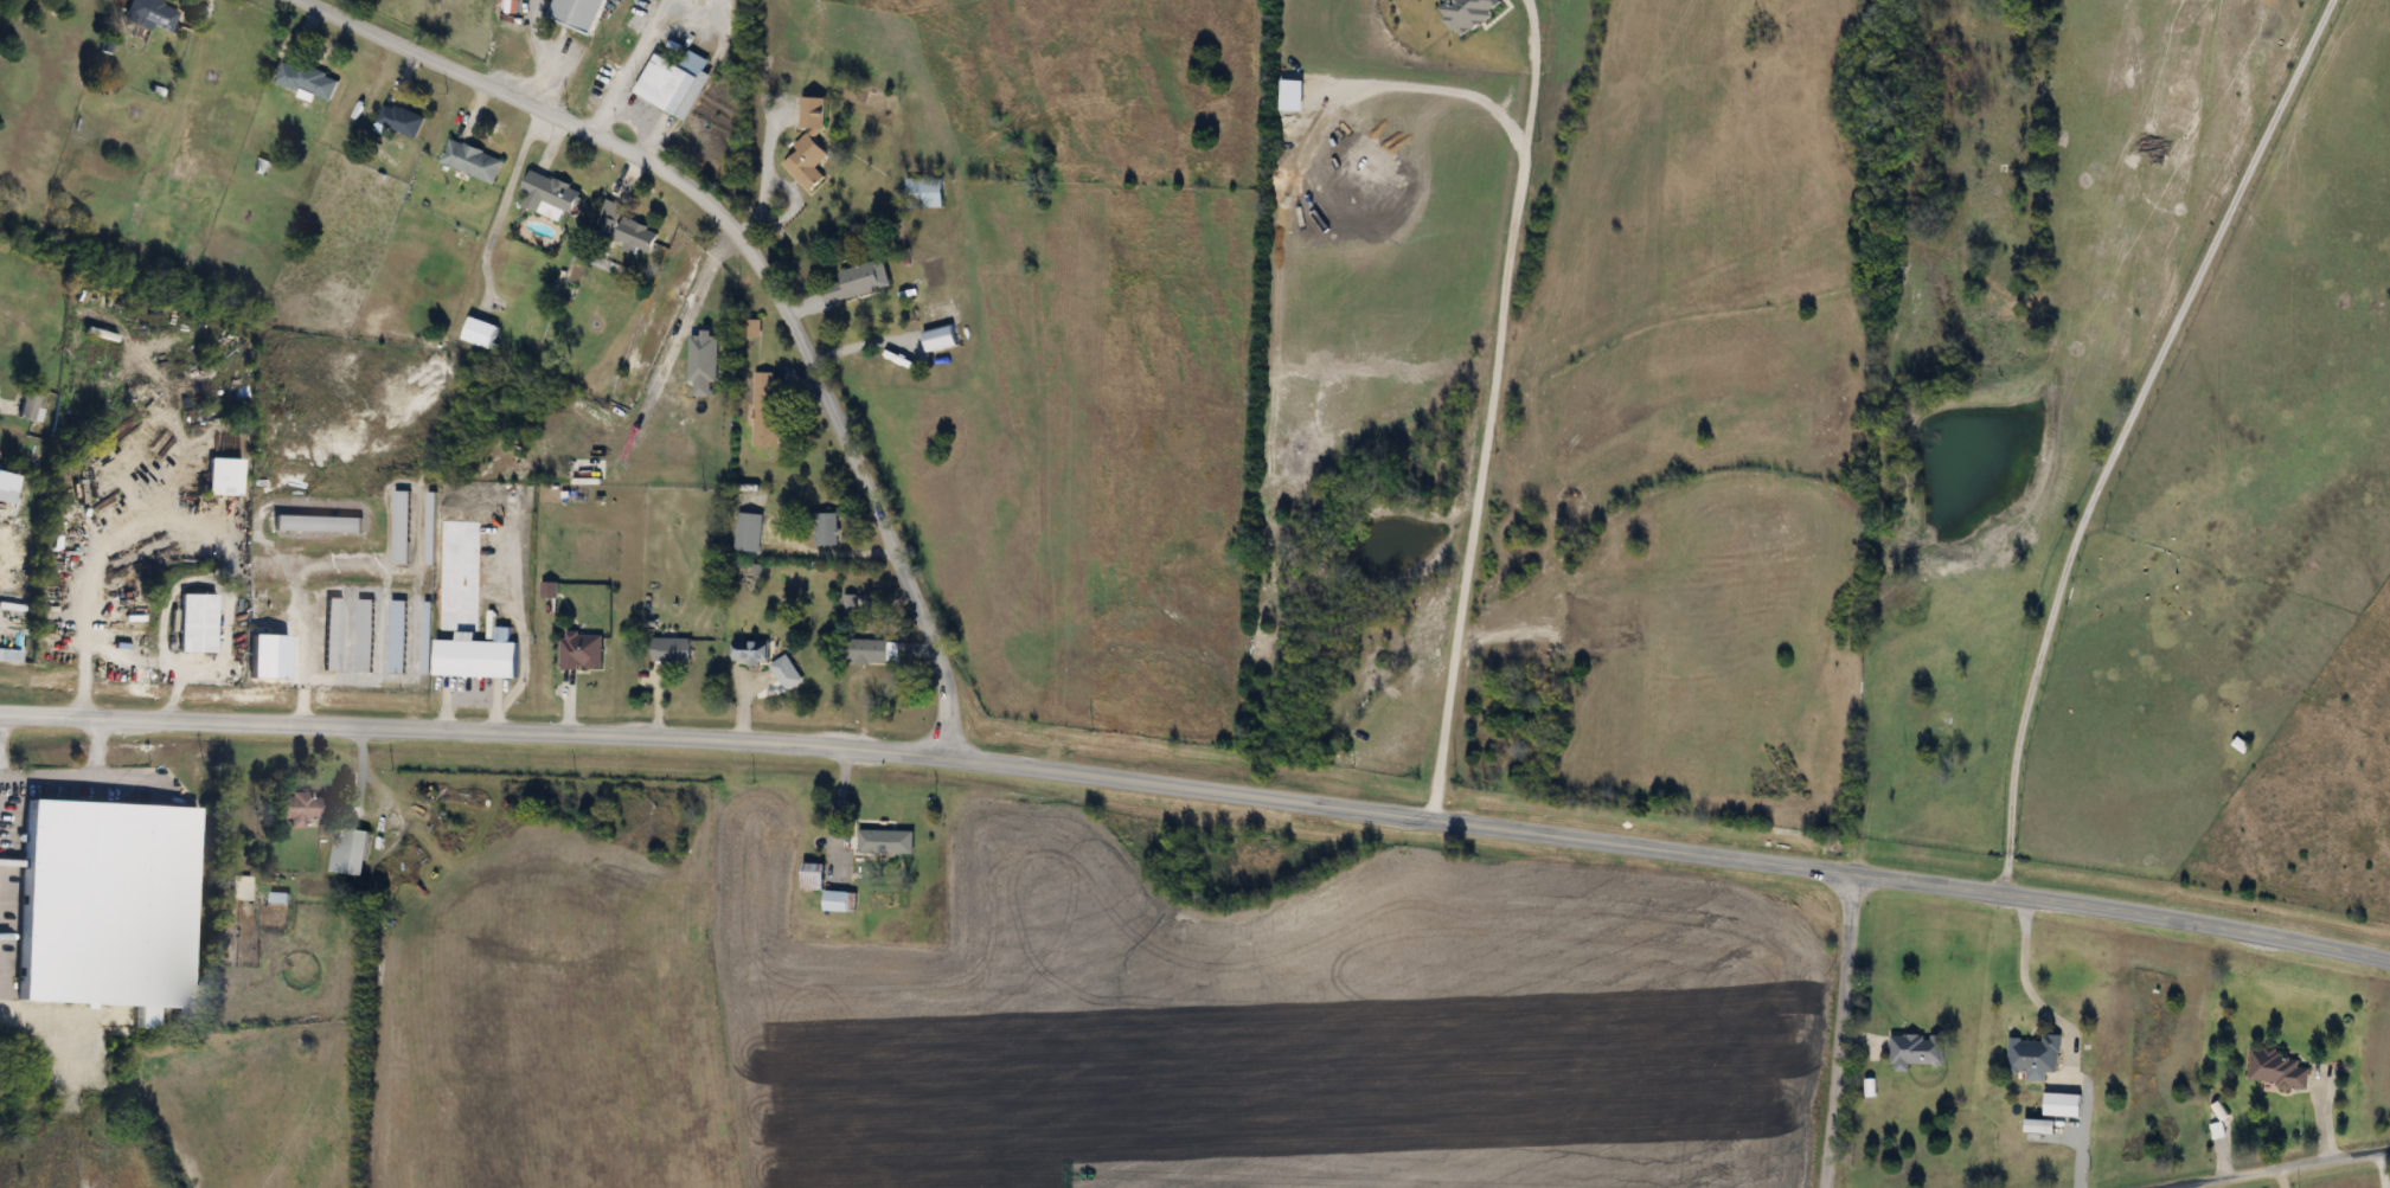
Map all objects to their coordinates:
building: (150, 13)
building: (577, 13)
road: (533, 63)
building: (306, 81)
building: (671, 85)
building: (401, 118)
building: (808, 145)
building: (470, 160)
road: (763, 174)
building: (923, 192)
building: (549, 193)
building: (629, 233)
road: (756, 262)
building: (864, 277)
road: (697, 295)
building: (479, 332)
road: (852, 347)
building: (28, 403)
building: (764, 409)
road: (1480, 428)
road: (2120, 431)
building: (222, 476)
building: (7, 486)
building: (315, 522)
building: (401, 526)
building: (429, 526)
building: (825, 527)
building: (748, 531)
road: (826, 553)
road: (91, 559)
building: (549, 587)
building: (194, 622)
building: (329, 632)
building: (364, 634)
building: (396, 635)
building: (581, 649)
building: (671, 649)
building: (749, 649)
building: (872, 650)
building: (474, 655)
road: (152, 656)
building: (782, 668)
road: (357, 766)
road: (76, 773)
road: (1199, 789)
building: (297, 807)
road: (840, 810)
building: (885, 841)
building: (348, 849)
building: (812, 875)
building: (238, 887)
building: (839, 901)
building: (109, 904)
road: (1838, 1032)
road: (2069, 1036)
building: (1915, 1049)
building: (2033, 1054)
building: (2276, 1068)
building: (2063, 1104)
road: (2272, 1167)
road: (2382, 1168)
road: (2289, 1176)
road: (2205, 1183)

